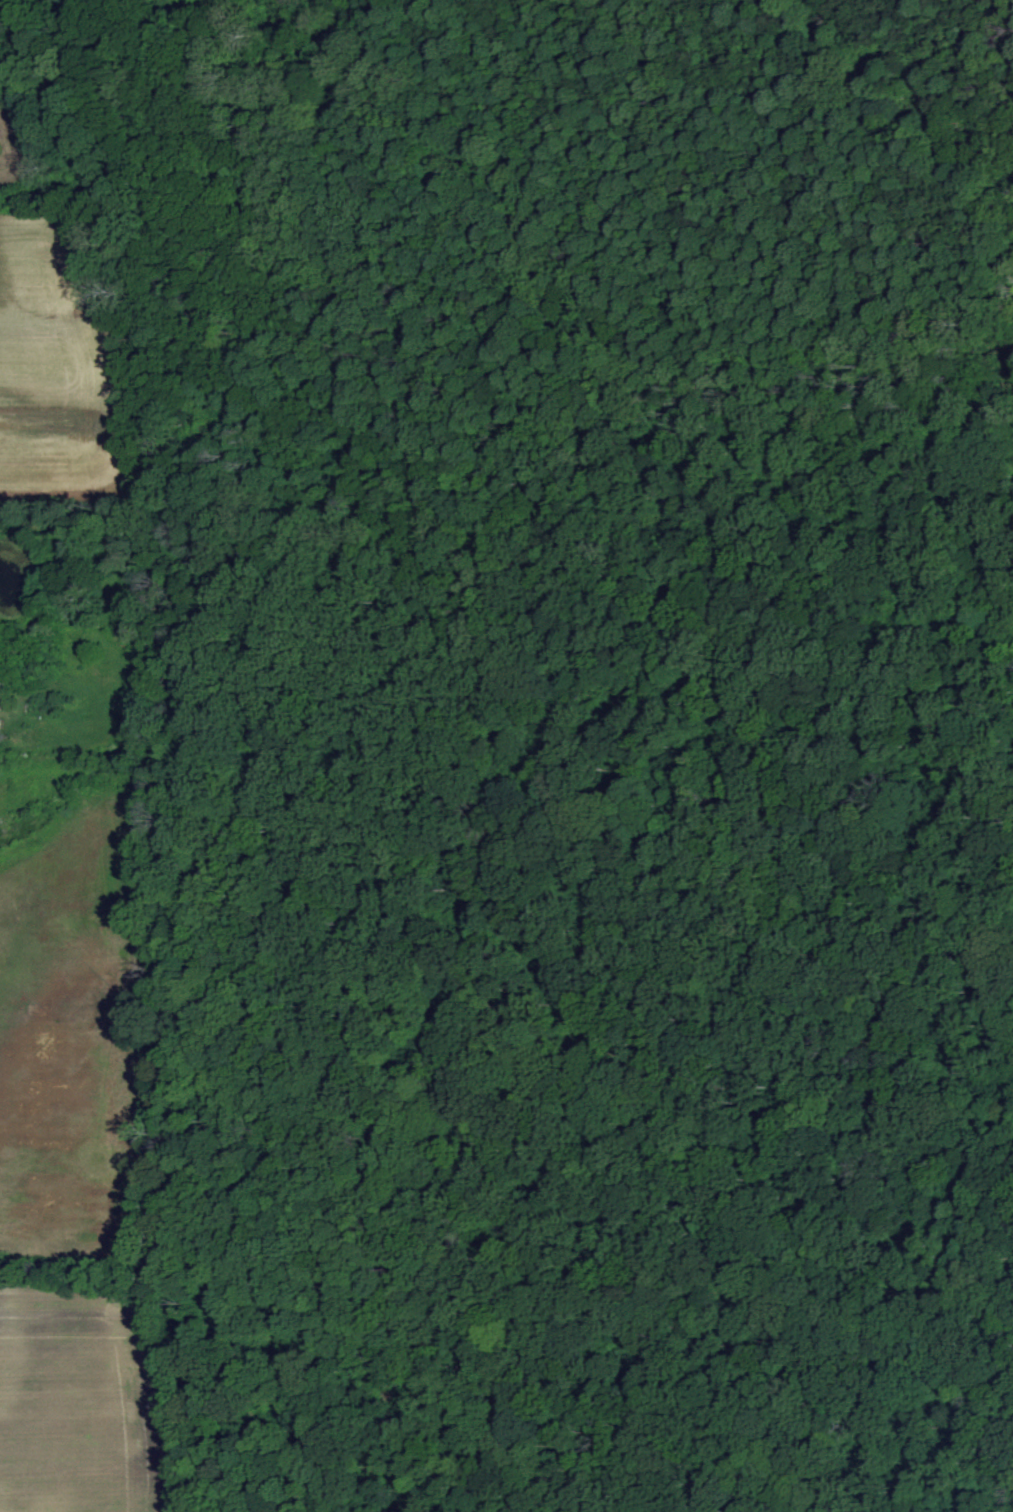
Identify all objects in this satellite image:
park: (574, 774)

